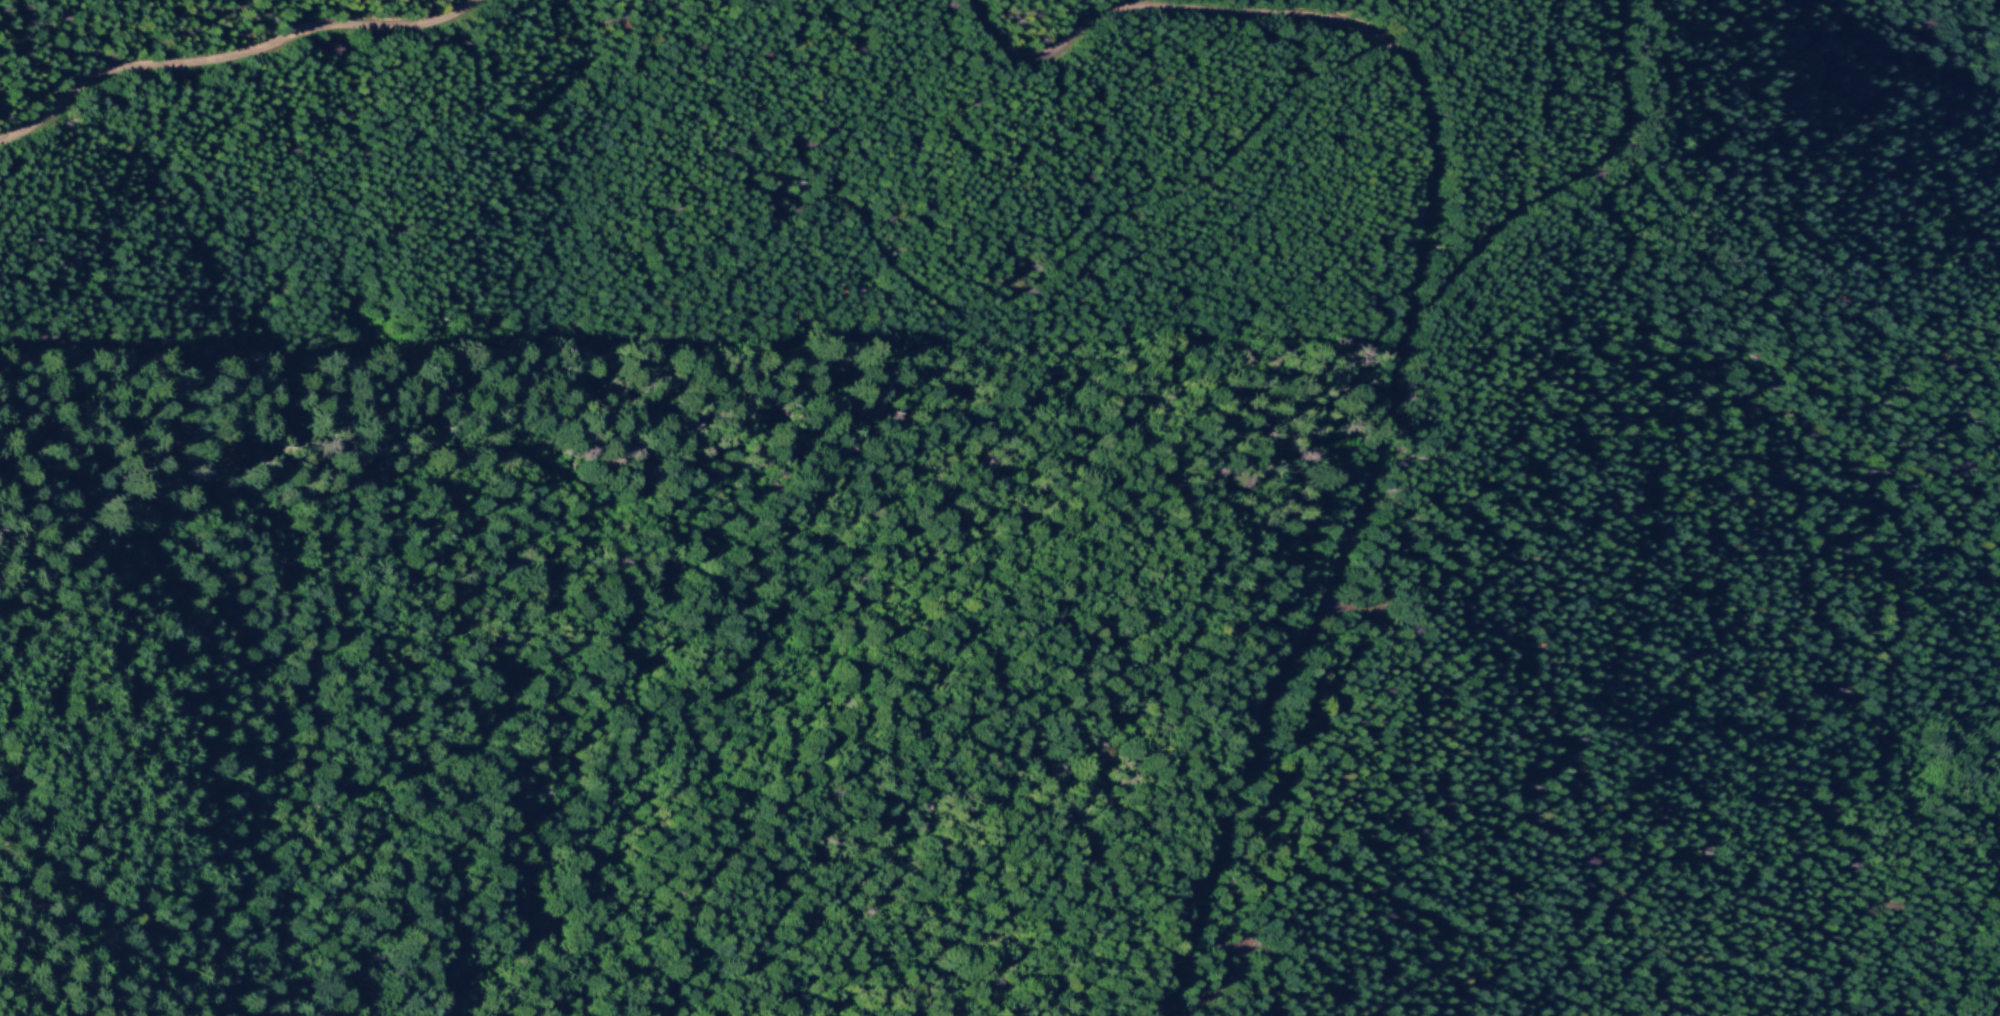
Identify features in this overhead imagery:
road: (232, 56)
road: (1359, 347)

